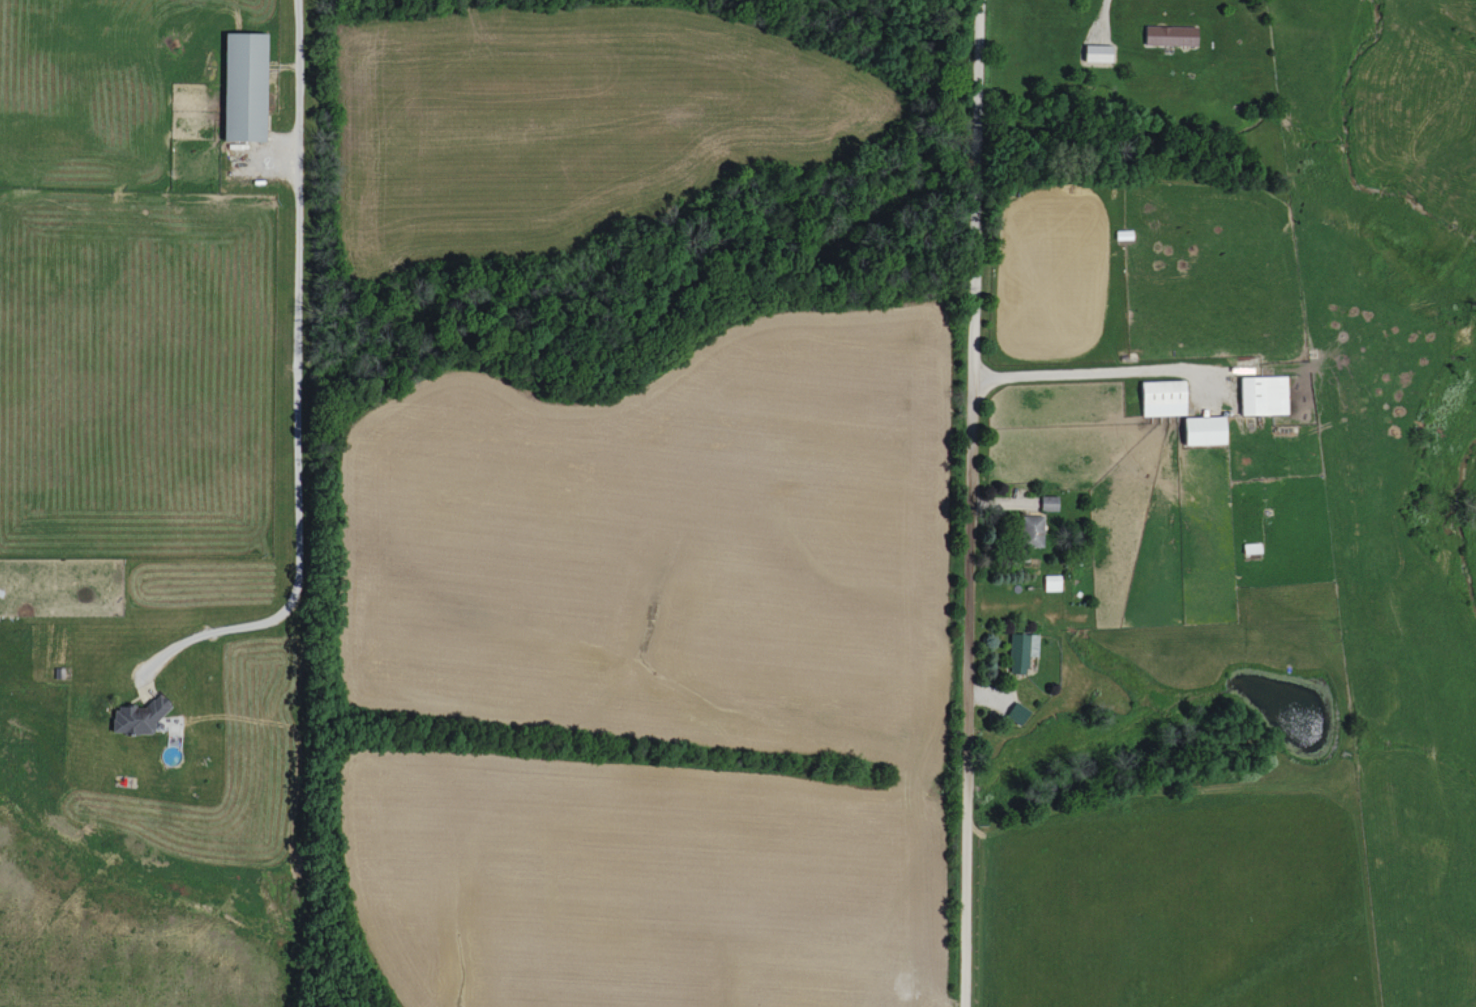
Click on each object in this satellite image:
building: (1173, 35)
building: (1100, 53)
building: (247, 87)
road: (1094, 371)
road: (297, 389)
building: (1265, 394)
building: (1166, 397)
building: (1207, 429)
building: (1050, 502)
road: (967, 503)
building: (1035, 530)
building: (1052, 582)
building: (1023, 651)
building: (1019, 713)
building: (137, 716)

